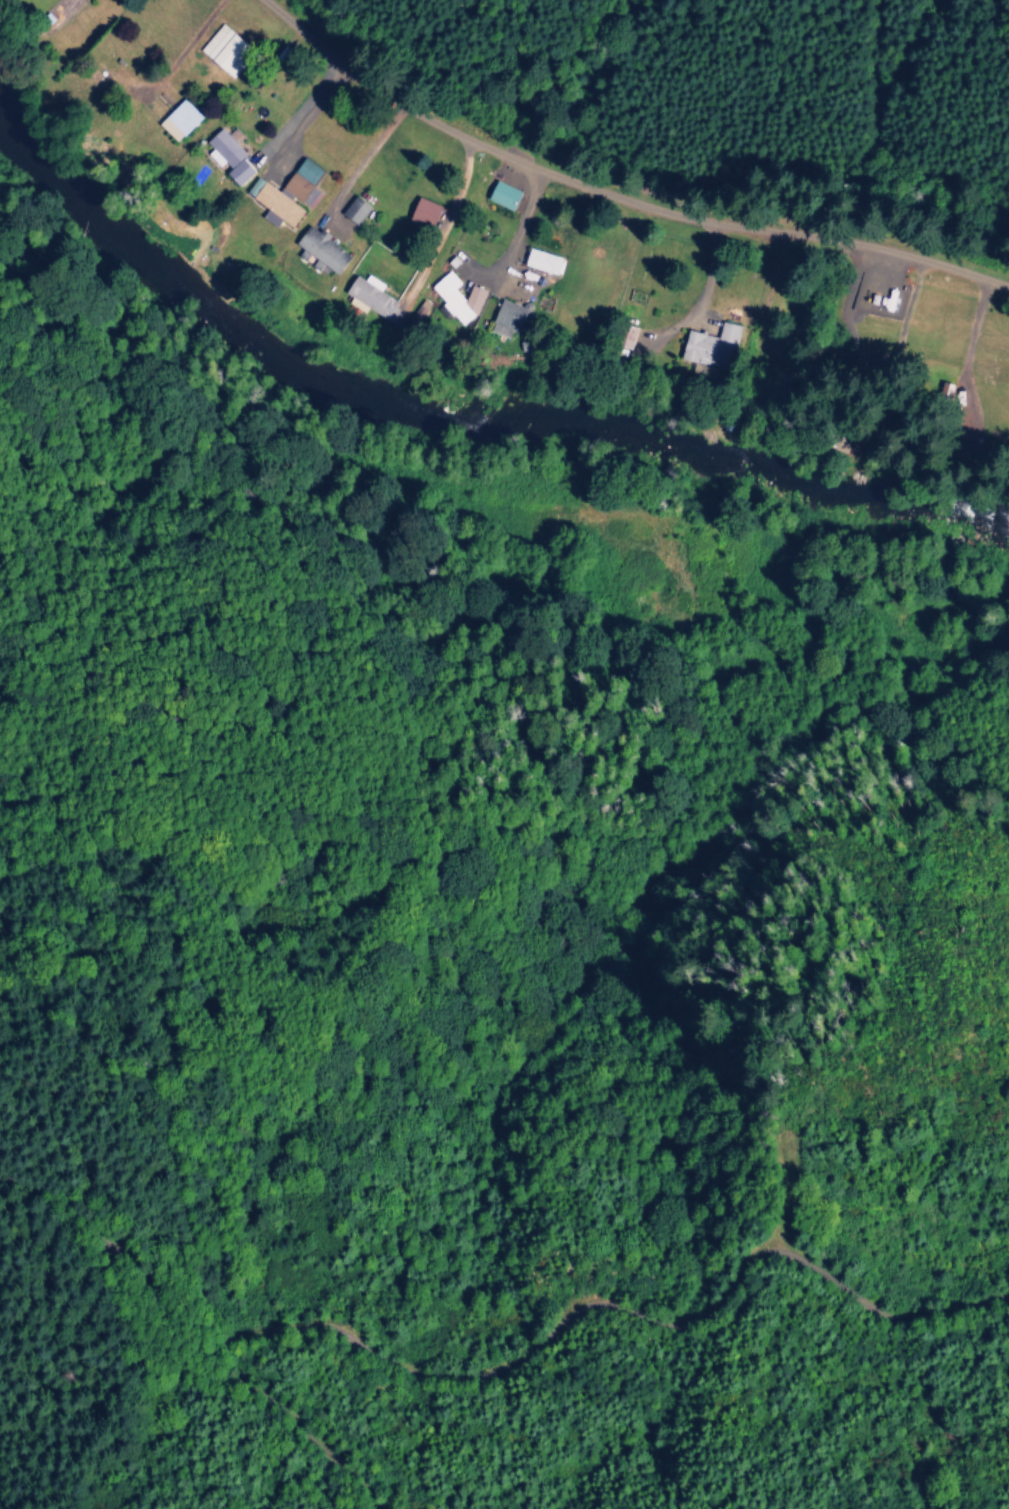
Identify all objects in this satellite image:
building: (220, 49)
road: (171, 67)
road: (300, 106)
road: (315, 114)
building: (176, 119)
building: (225, 156)
road: (362, 166)
building: (284, 194)
building: (500, 194)
road: (619, 196)
building: (352, 210)
building: (421, 211)
road: (446, 223)
road: (520, 225)
building: (319, 249)
building: (539, 260)
building: (456, 297)
building: (371, 298)
road: (701, 298)
building: (418, 309)
road: (975, 331)
building: (624, 336)
building: (708, 345)
river: (456, 422)
road: (598, 1302)
road: (174, 1361)

